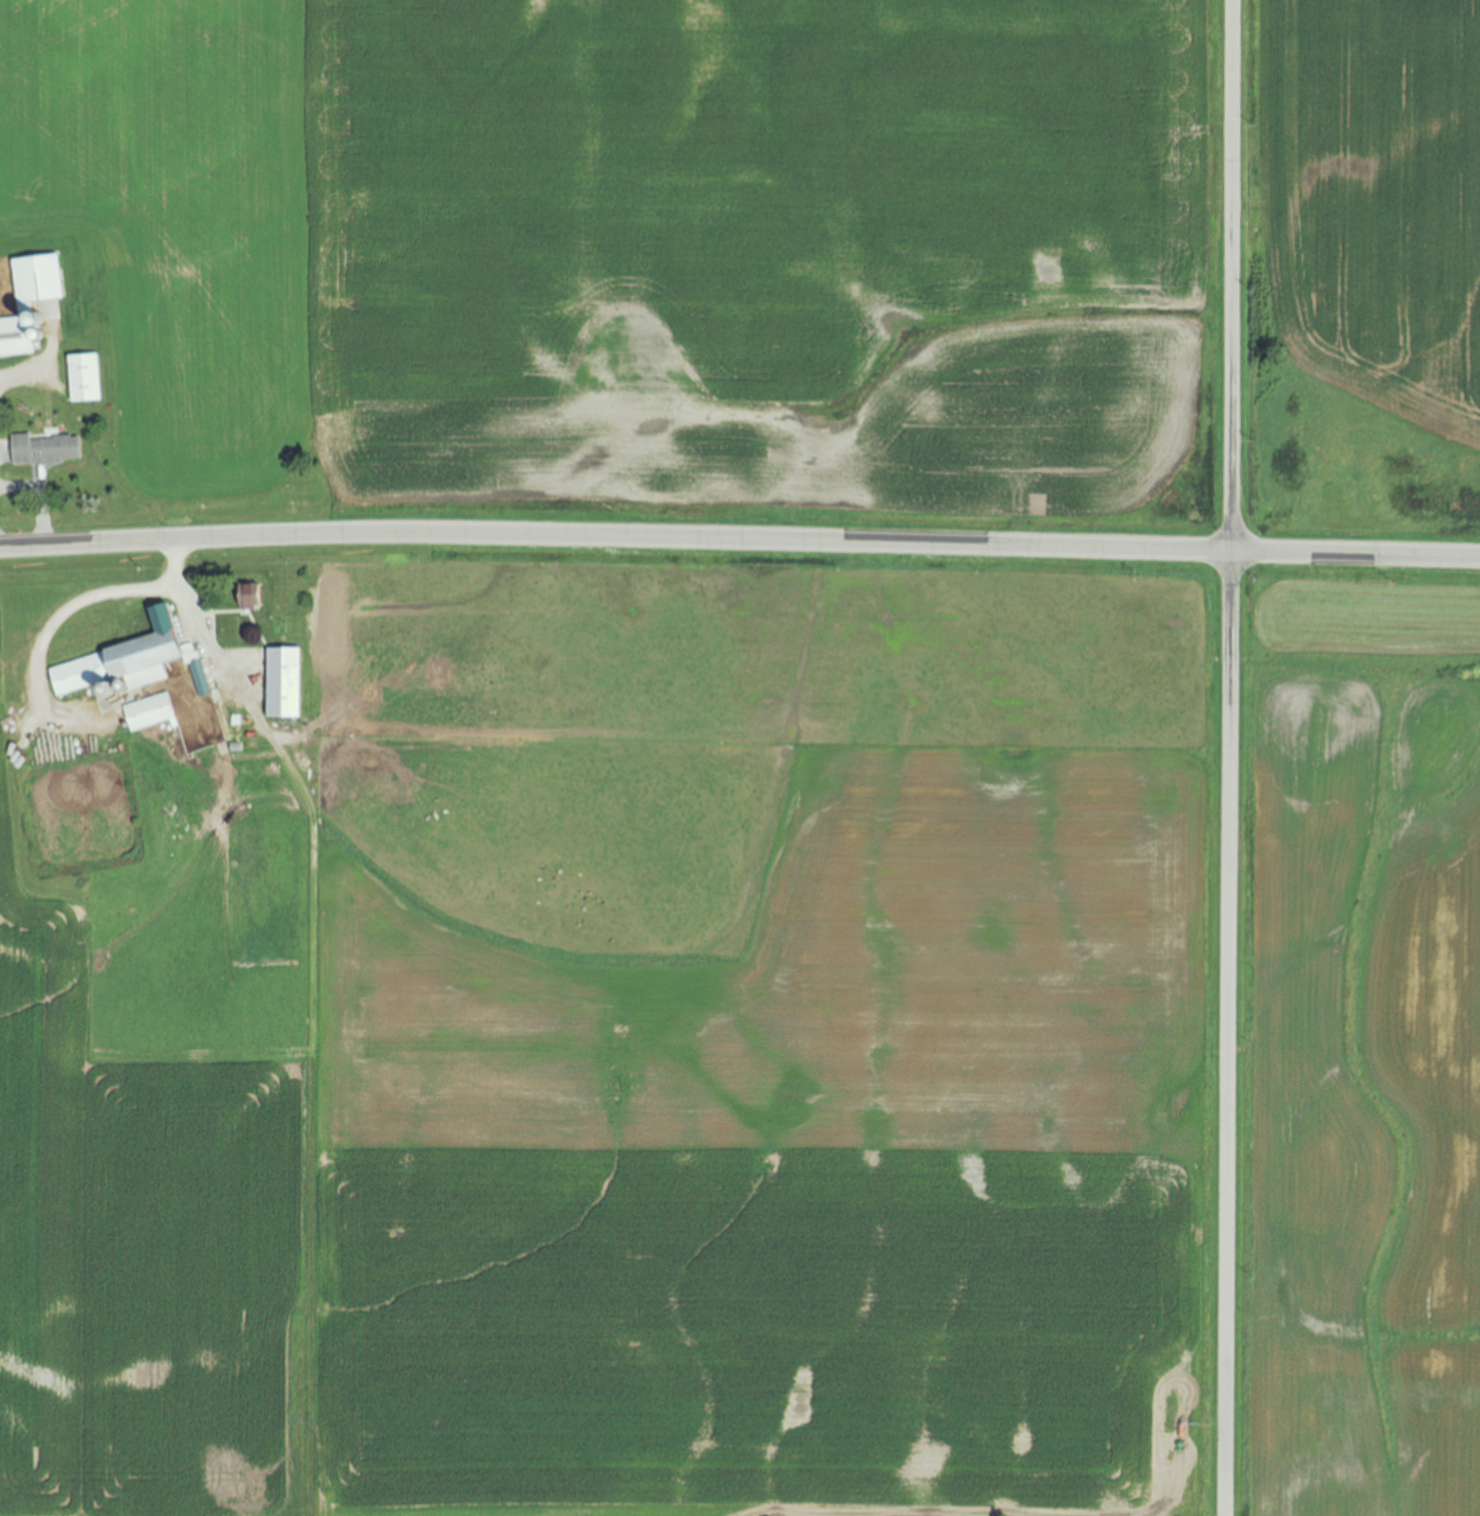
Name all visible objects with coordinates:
building: (28, 304)
building: (83, 380)
building: (42, 451)
road: (38, 499)
road: (739, 541)
building: (247, 598)
road: (190, 617)
road: (55, 621)
building: (130, 661)
building: (281, 685)
building: (148, 714)
road: (1227, 757)

